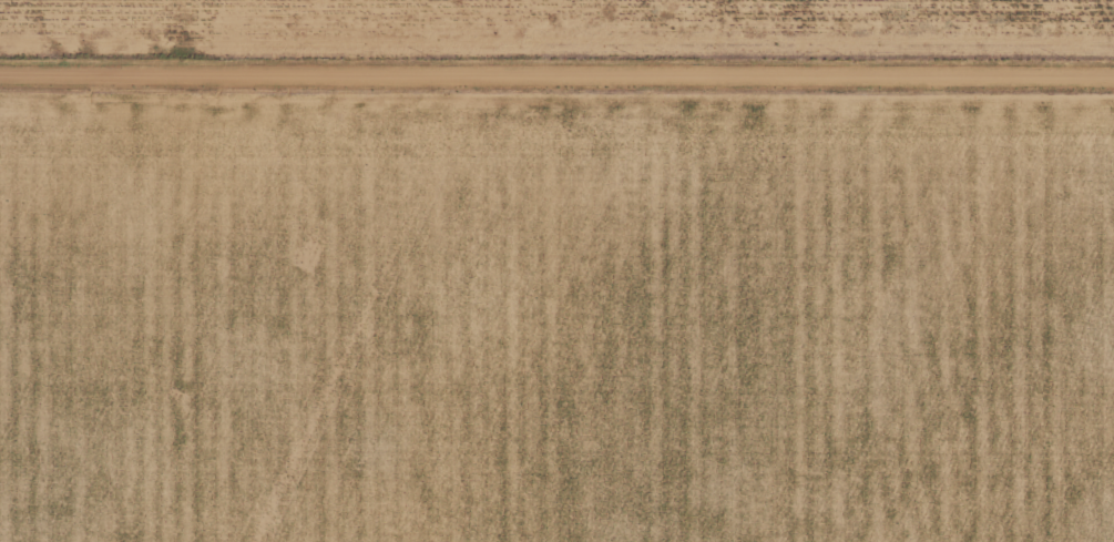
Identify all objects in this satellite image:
road: (556, 72)

